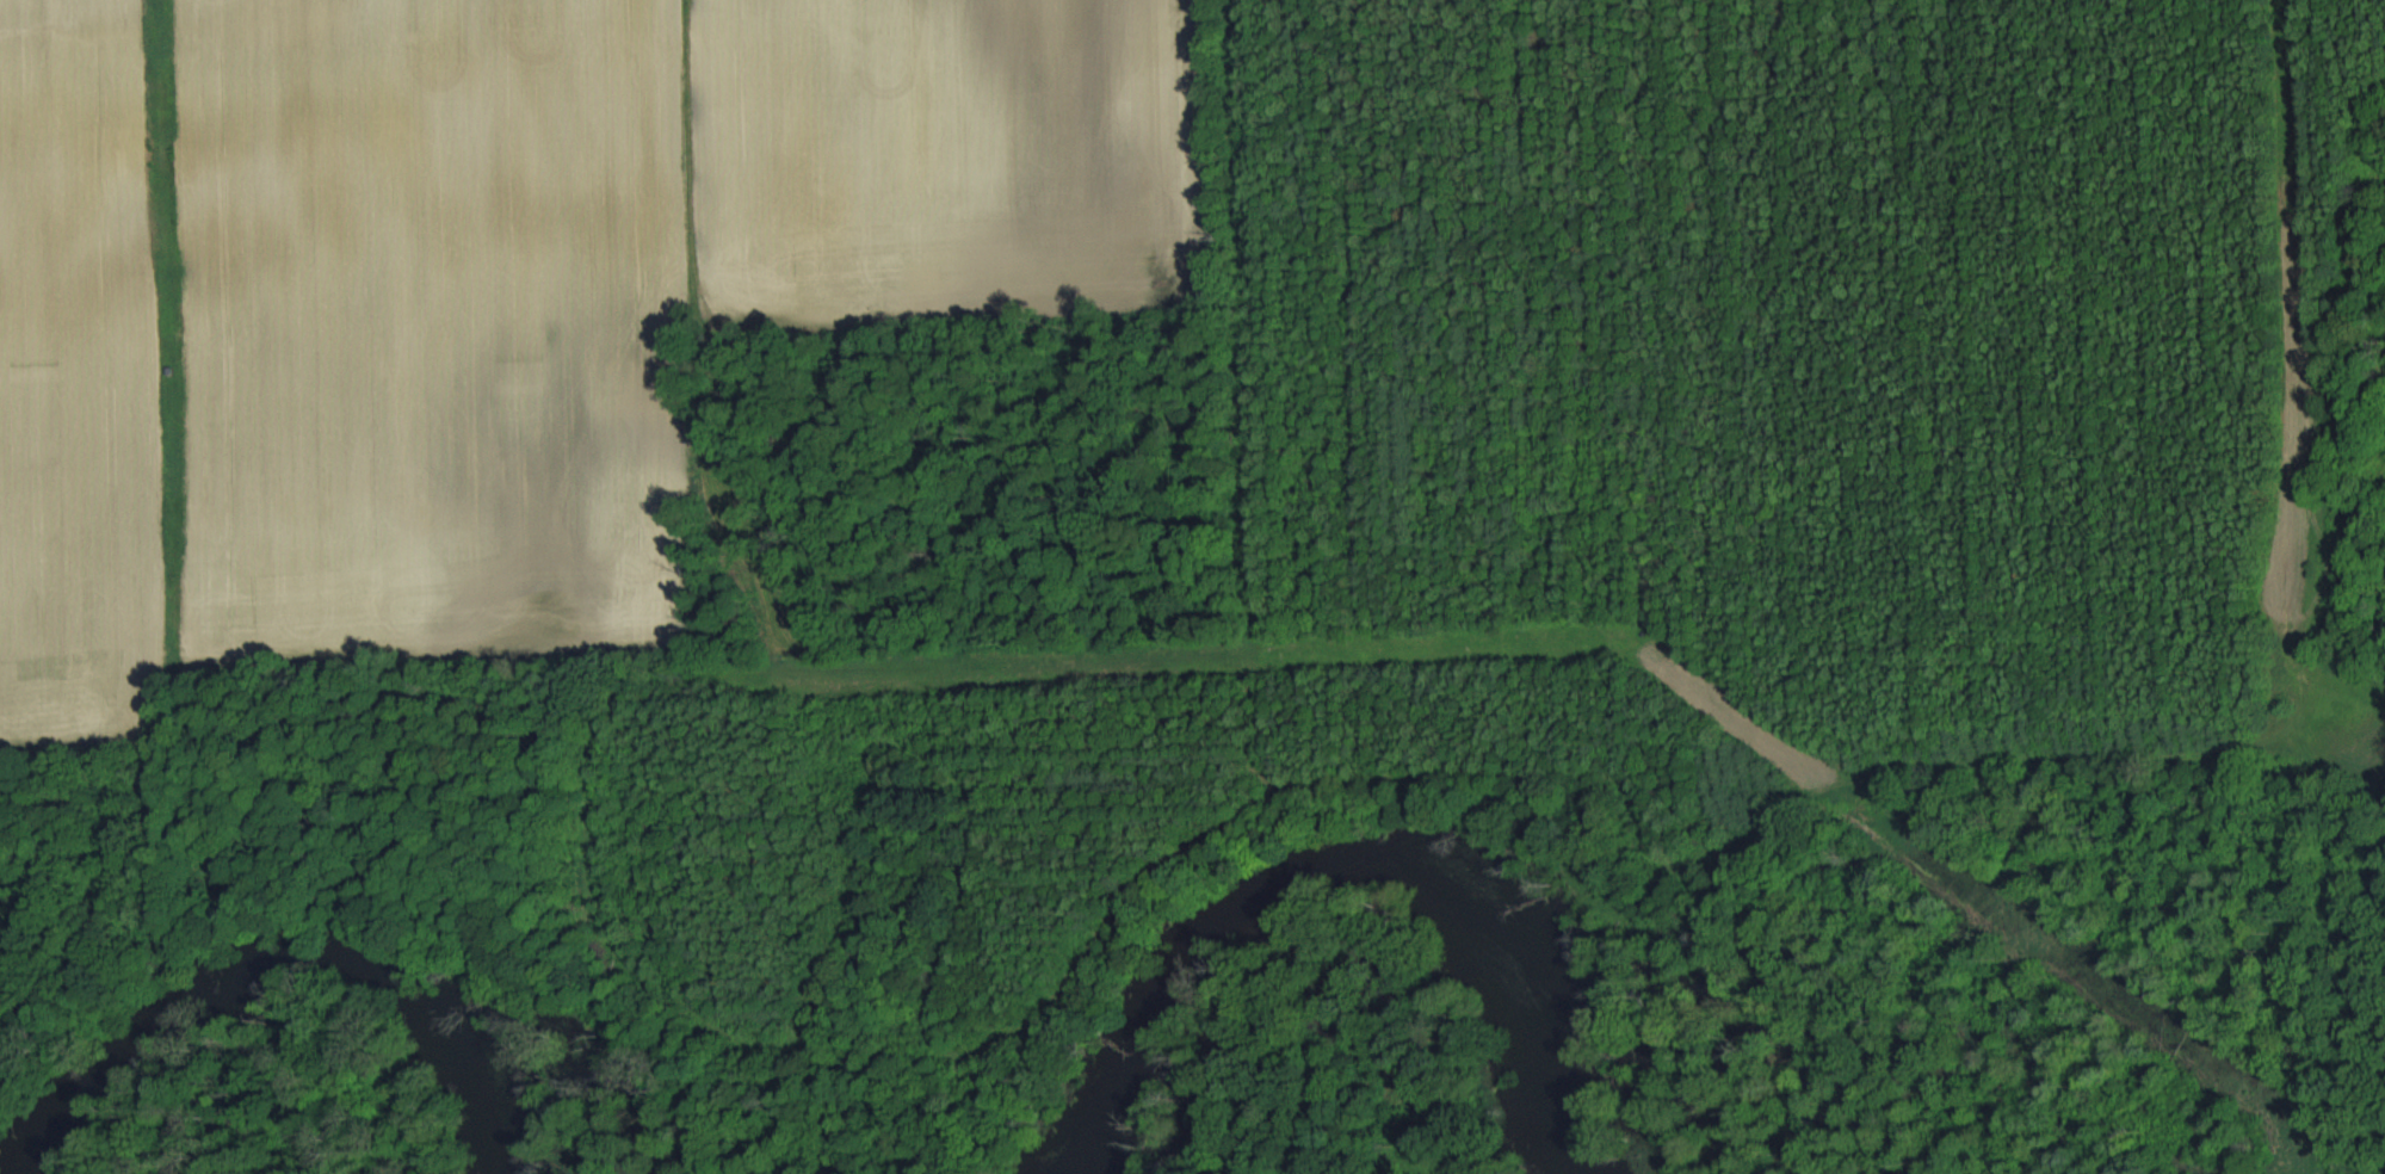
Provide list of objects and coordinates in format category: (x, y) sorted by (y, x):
river: (1341, 861)
river: (291, 964)

